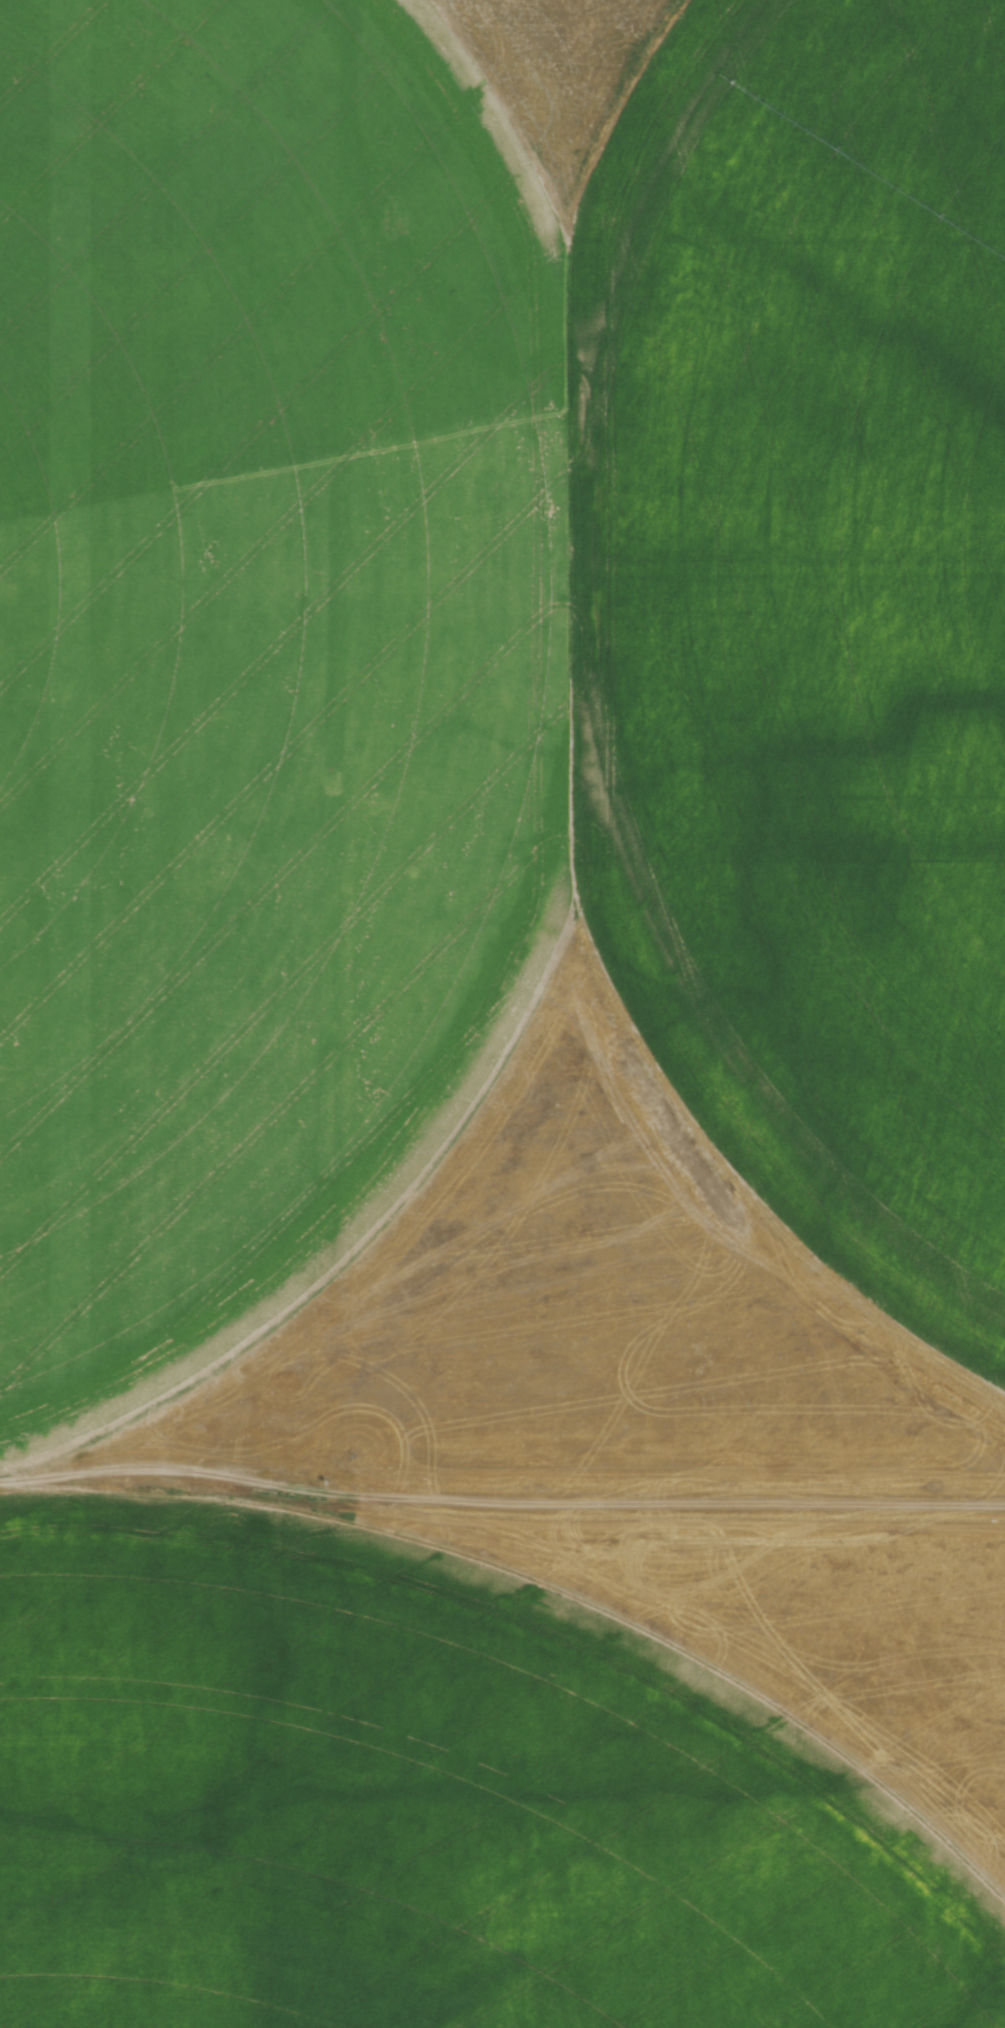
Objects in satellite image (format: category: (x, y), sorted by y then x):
road: (501, 1495)

